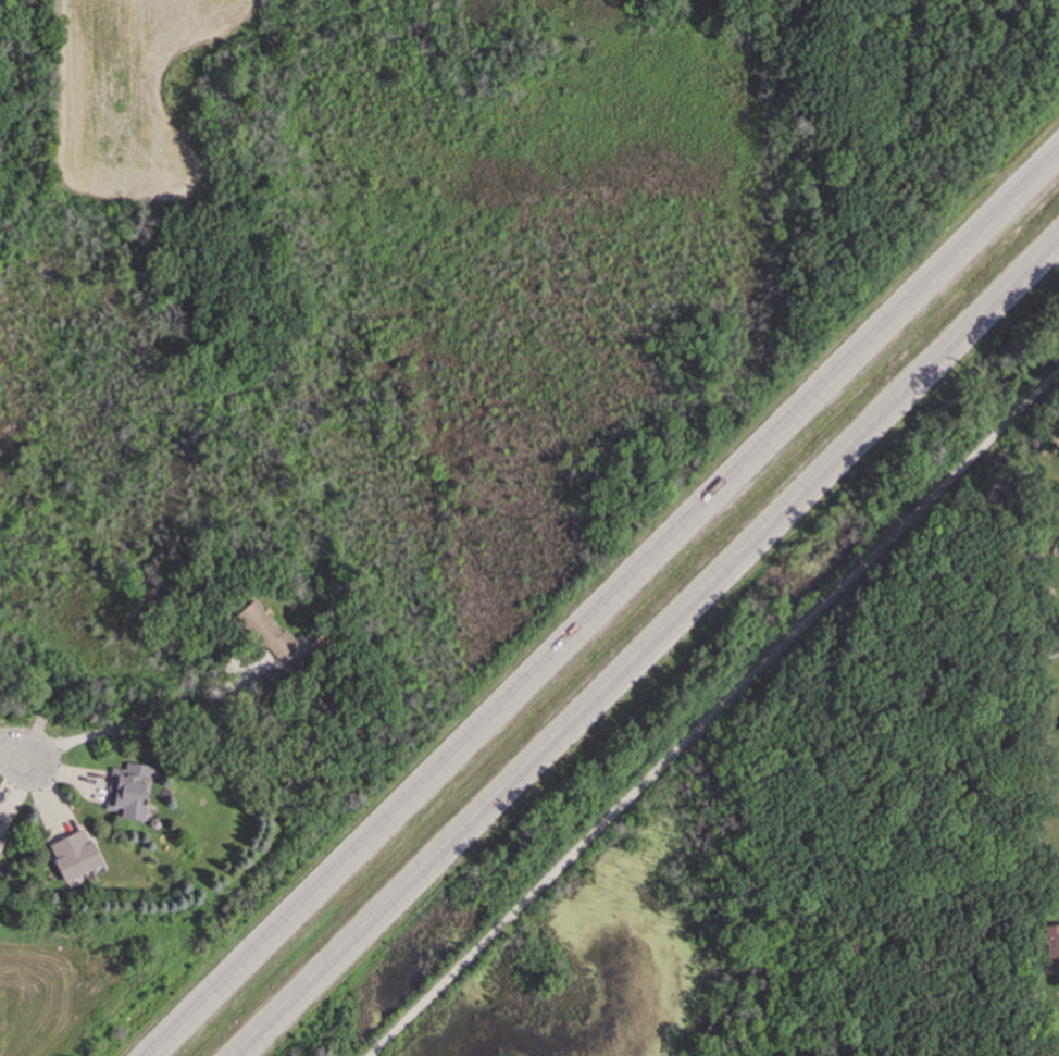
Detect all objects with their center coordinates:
road: (613, 610)
building: (266, 634)
road: (655, 650)
road: (1042, 661)
road: (715, 715)
road: (157, 718)
road: (16, 755)
building: (129, 794)
building: (1, 846)
building: (76, 858)
building: (1052, 948)

